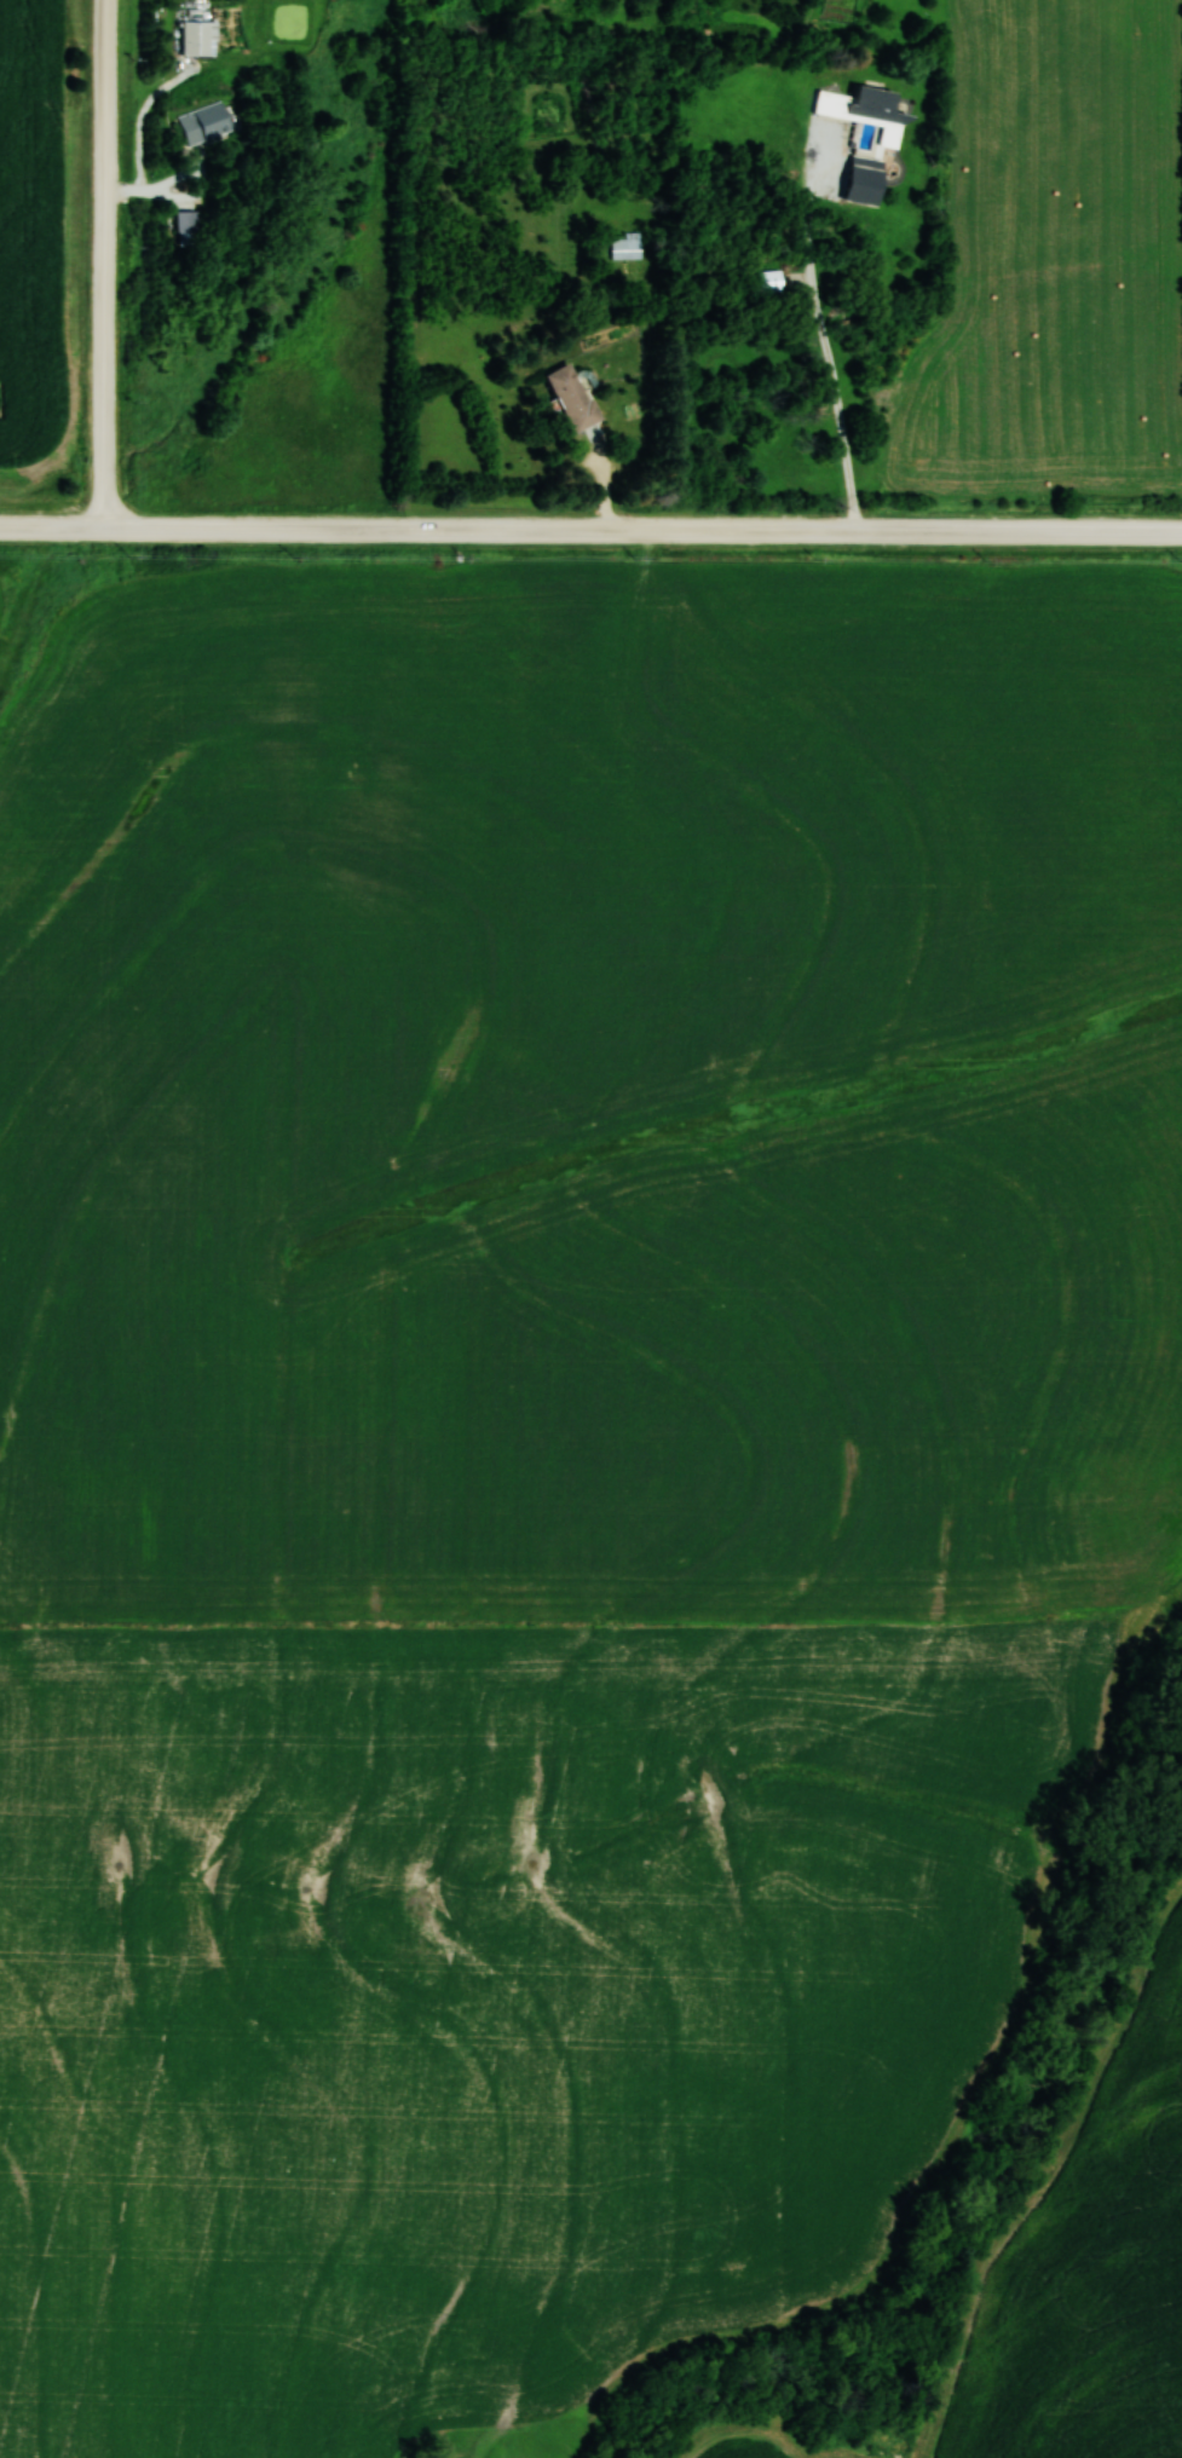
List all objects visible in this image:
building: (198, 39)
building: (864, 116)
building: (204, 122)
building: (624, 247)
road: (104, 264)
building: (768, 283)
building: (572, 398)
road: (590, 529)

